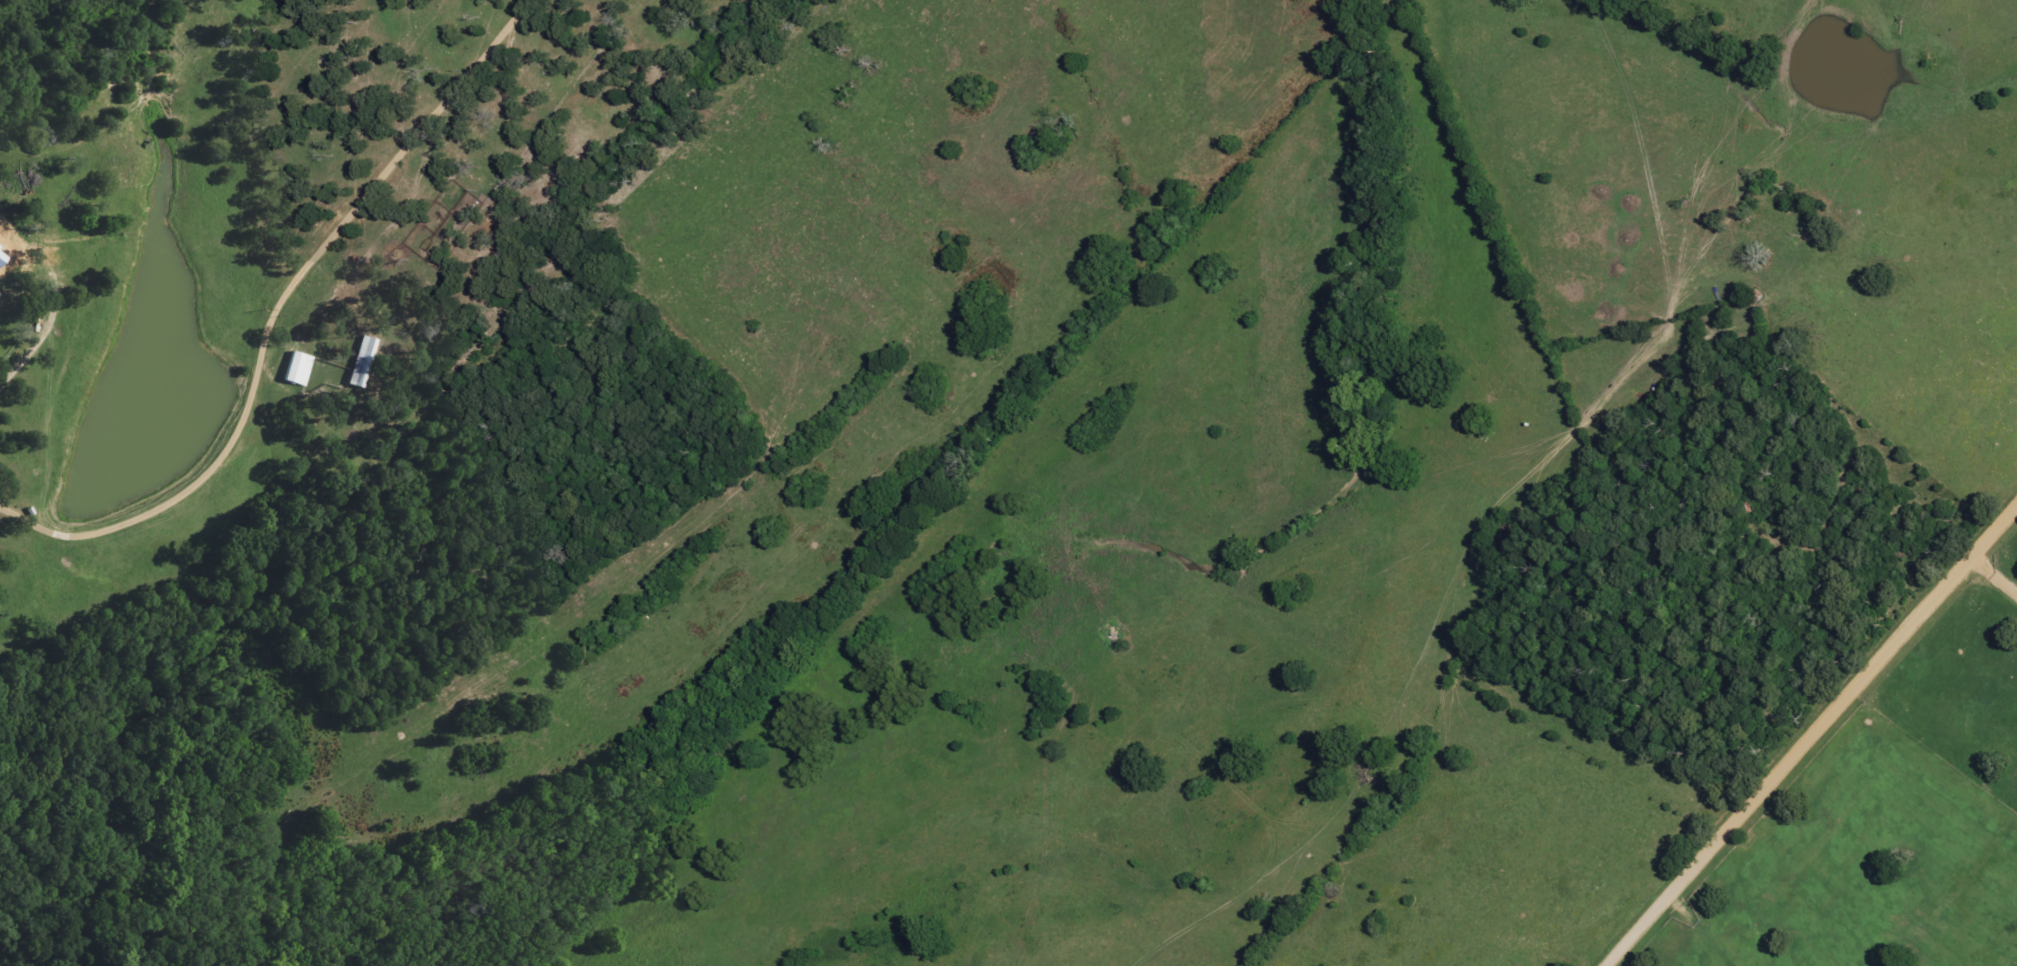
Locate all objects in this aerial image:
road: (434, 101)
building: (0, 296)
building: (300, 369)
road: (1813, 738)

